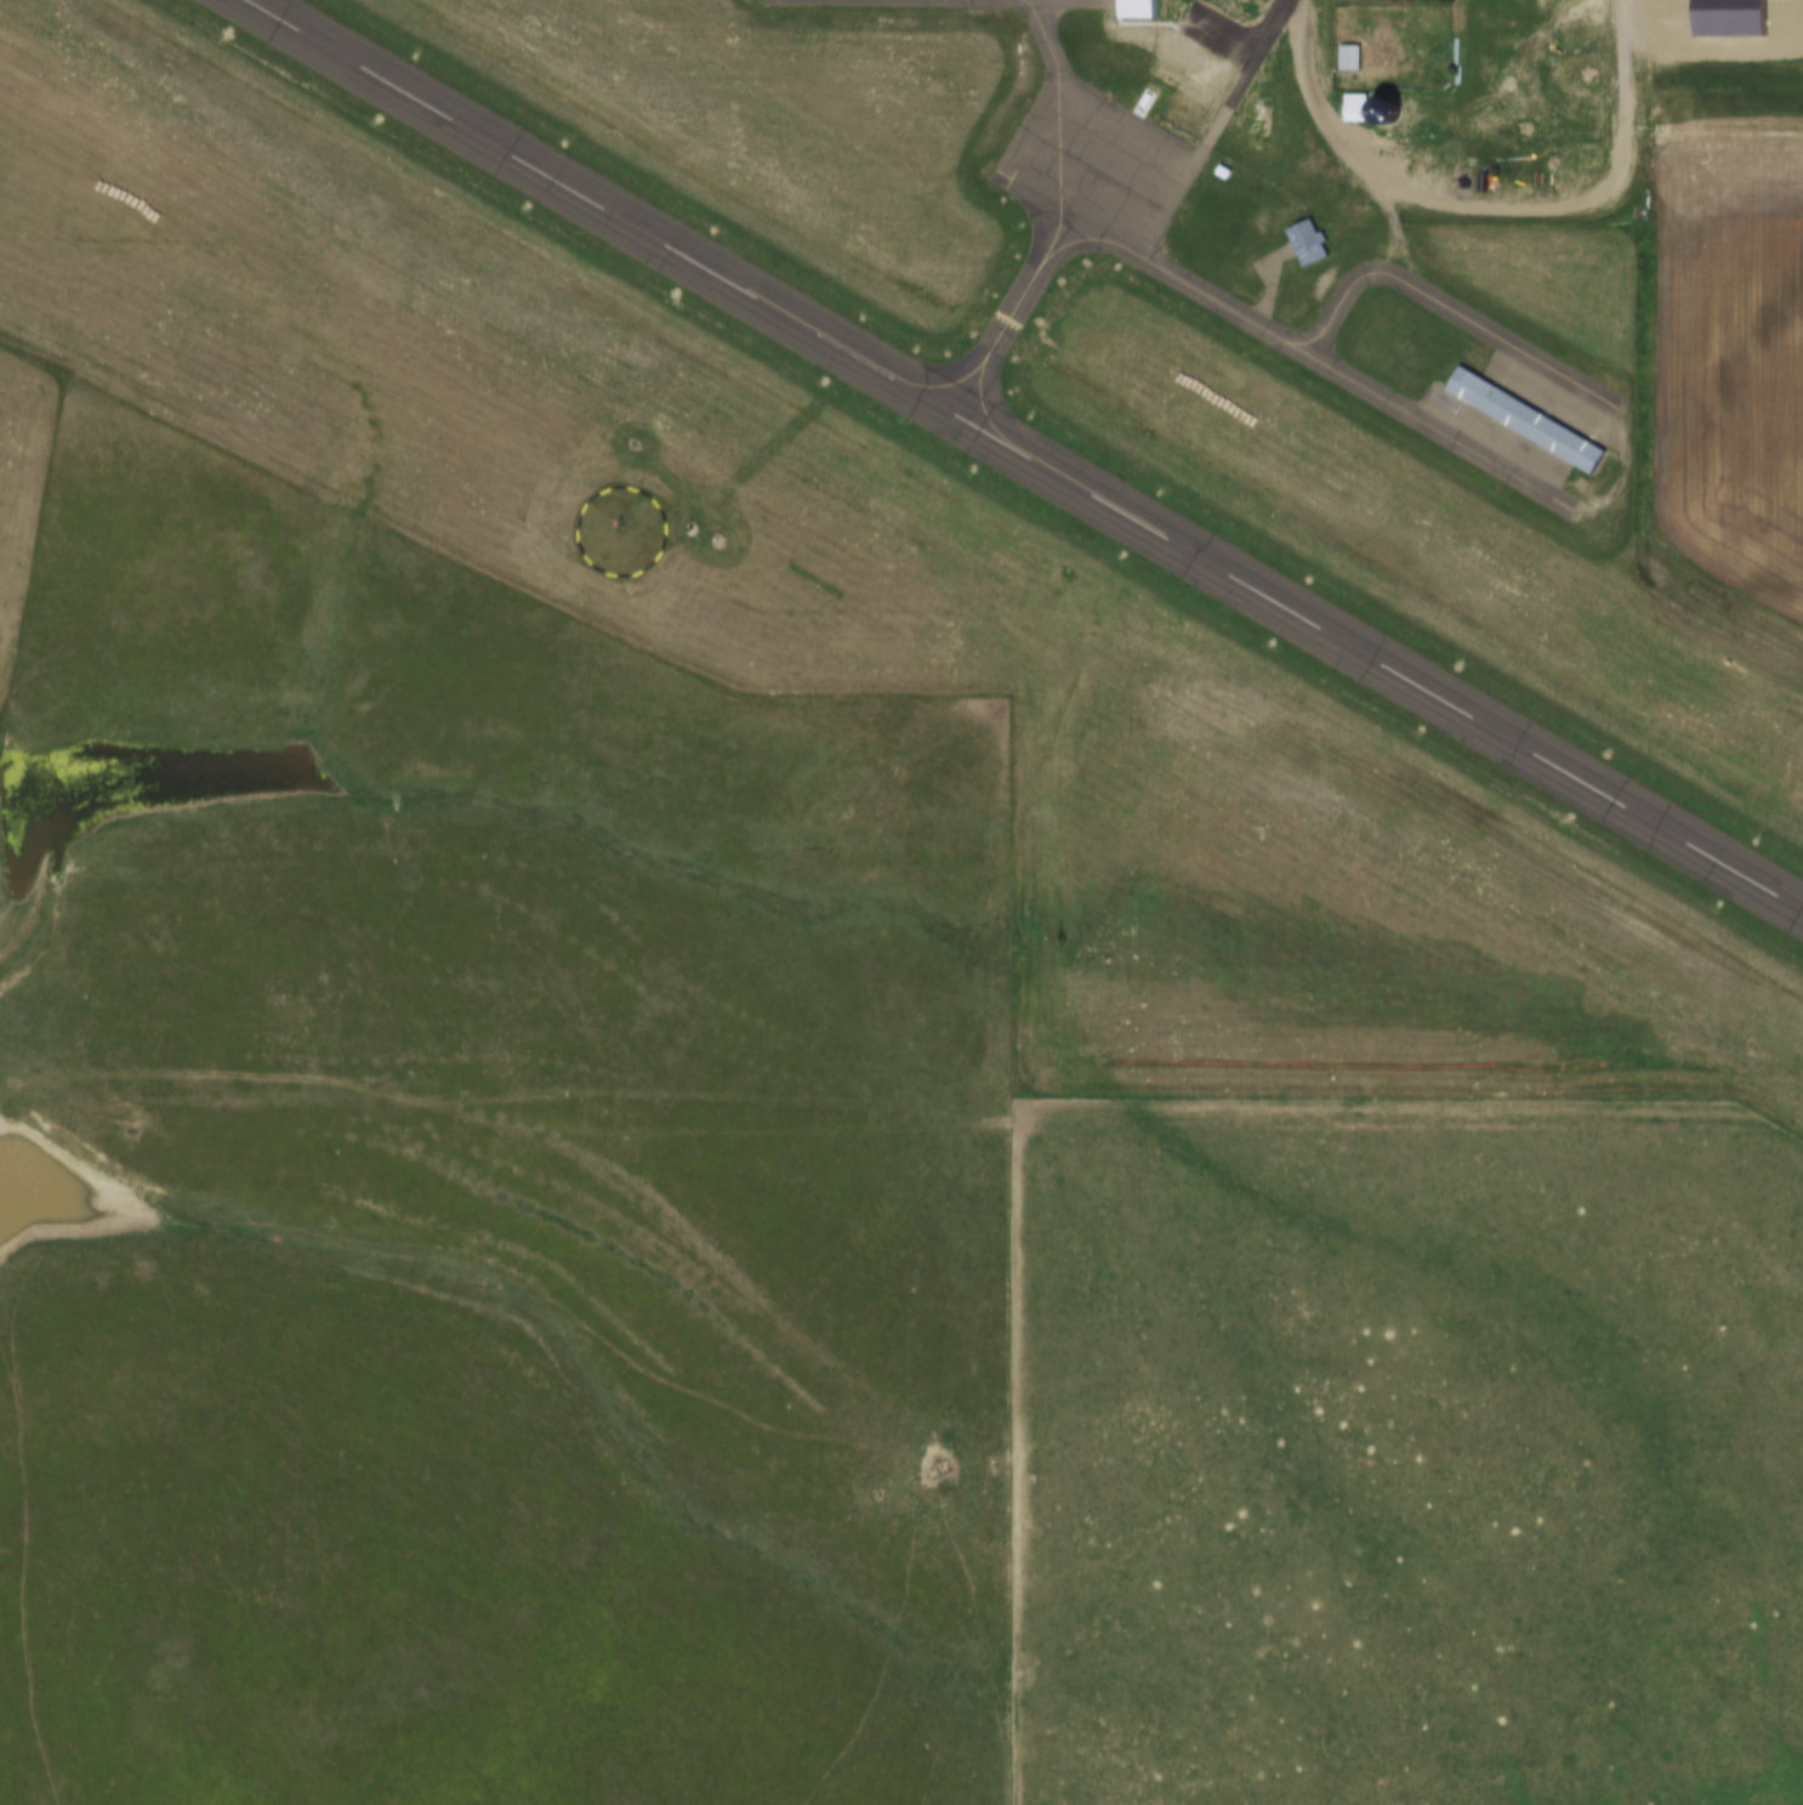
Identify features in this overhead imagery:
airport taxiway: (995, 1)
building: (1131, 10)
airport taxiway: (1028, 36)
building: (1342, 61)
building: (1343, 114)
road: (1211, 129)
airport apron: (1077, 166)
road: (1495, 205)
road: (1387, 235)
building: (1301, 245)
airport taxiway: (1439, 312)
airport taxiway: (1000, 324)
airport taxiway: (1336, 379)
building: (1522, 424)
airport runway: (1016, 460)
airport: (992, 490)

